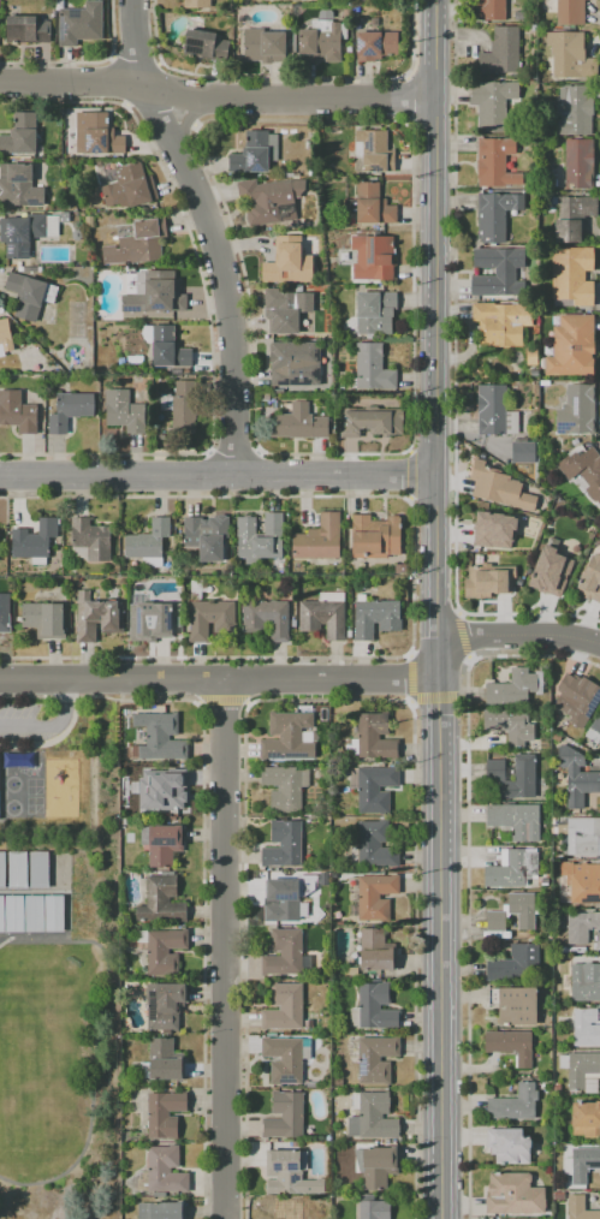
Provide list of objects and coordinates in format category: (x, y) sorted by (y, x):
building: (379, 0)
building: (196, 2)
building: (489, 10)
building: (570, 12)
building: (518, 14)
building: (81, 23)
building: (26, 29)
building: (321, 38)
building: (204, 44)
building: (265, 44)
building: (374, 44)
building: (501, 52)
building: (570, 55)
road: (216, 95)
building: (492, 105)
building: (574, 109)
building: (19, 133)
building: (100, 133)
building: (374, 150)
building: (254, 151)
building: (494, 162)
building: (578, 162)
building: (18, 183)
building: (130, 188)
building: (269, 200)
building: (369, 204)
building: (495, 214)
building: (572, 216)
road: (220, 226)
building: (20, 233)
building: (137, 243)
building: (375, 254)
building: (287, 261)
building: (497, 274)
building: (572, 274)
building: (29, 293)
building: (154, 295)
building: (375, 310)
building: (284, 314)
building: (498, 323)
building: (7, 337)
building: (571, 346)
building: (167, 347)
building: (531, 356)
building: (292, 363)
building: (373, 368)
building: (180, 405)
building: (69, 410)
building: (124, 410)
building: (576, 410)
building: (17, 411)
building: (494, 411)
building: (370, 421)
building: (298, 423)
road: (408, 450)
road: (207, 451)
road: (257, 451)
building: (523, 451)
road: (102, 453)
road: (333, 453)
road: (232, 458)
building: (589, 471)
road: (218, 474)
road: (410, 474)
building: (498, 487)
road: (203, 496)
road: (408, 499)
building: (493, 529)
building: (374, 536)
building: (259, 537)
building: (32, 539)
building: (90, 539)
building: (203, 539)
building: (319, 539)
building: (147, 540)
building: (400, 567)
building: (551, 571)
building: (590, 579)
building: (488, 581)
road: (438, 608)
building: (323, 614)
building: (5, 616)
building: (96, 617)
building: (152, 618)
building: (266, 618)
building: (374, 618)
building: (43, 619)
building: (210, 619)
road: (519, 636)
road: (220, 684)
building: (512, 688)
building: (580, 702)
parking lot: (17, 721)
building: (510, 724)
building: (596, 724)
road: (51, 726)
building: (160, 736)
building: (373, 736)
building: (556, 736)
building: (287, 737)
building: (524, 768)
building: (576, 777)
building: (284, 786)
building: (374, 787)
building: (164, 789)
building: (515, 820)
building: (583, 836)
building: (161, 843)
building: (375, 843)
building: (283, 844)
building: (511, 868)
building: (1, 869)
building: (17, 869)
building: (38, 869)
building: (581, 880)
building: (286, 894)
building: (375, 896)
building: (161, 900)
building: (522, 908)
building: (1, 914)
building: (14, 914)
building: (34, 914)
building: (54, 914)
building: (495, 920)
building: (582, 927)
building: (375, 950)
building: (165, 951)
road: (227, 951)
building: (284, 953)
building: (512, 962)
building: (584, 981)
building: (165, 1004)
building: (516, 1005)
building: (284, 1006)
building: (374, 1006)
building: (586, 1025)
building: (511, 1045)
building: (284, 1058)
building: (375, 1058)
building: (164, 1059)
building: (578, 1068)
building: (589, 1083)
building: (557, 1089)
building: (515, 1102)
building: (164, 1113)
building: (284, 1114)
building: (373, 1117)
building: (586, 1118)
building: (509, 1144)
building: (583, 1164)
building: (378, 1165)
building: (162, 1171)
building: (289, 1172)
building: (513, 1194)
building: (558, 1196)
building: (286, 1208)
building: (580, 1208)
building: (160, 1209)
building: (374, 1209)
building: (529, 1218)

